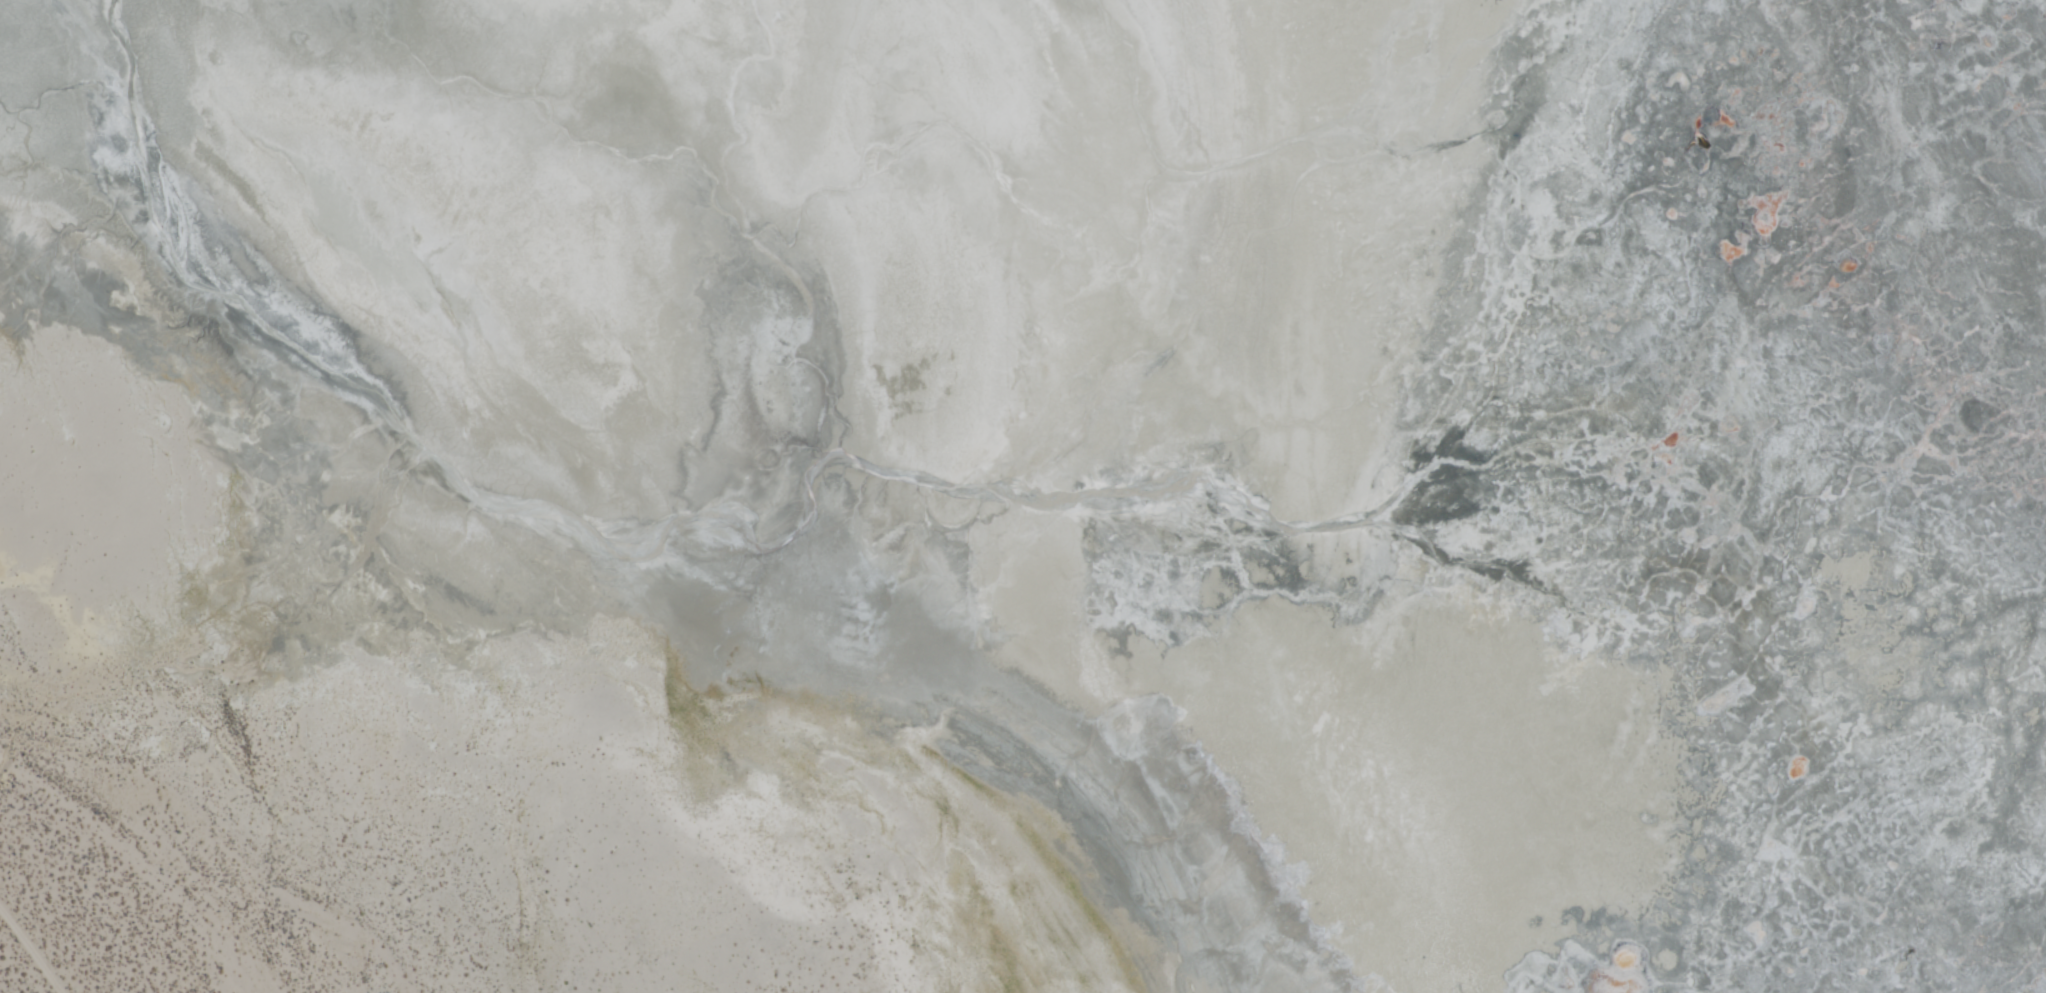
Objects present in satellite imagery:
road: (25, 957)

